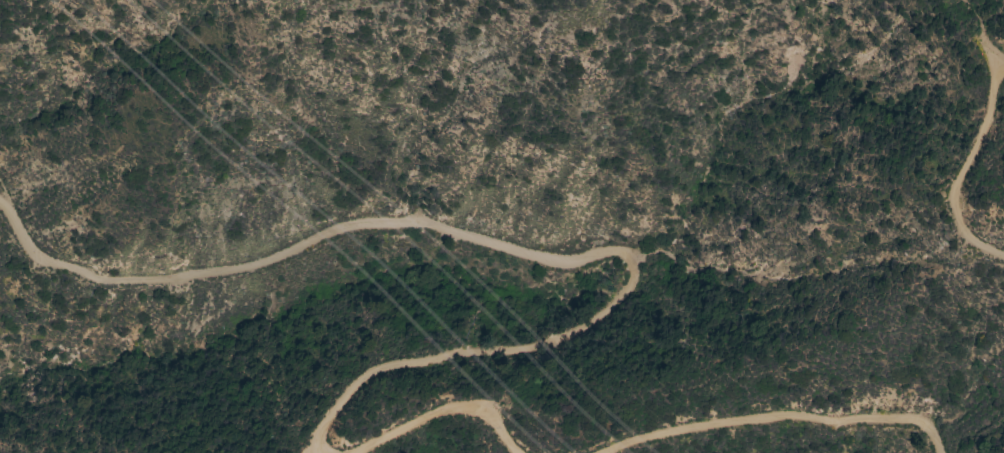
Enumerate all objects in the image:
road: (965, 169)
road: (503, 247)
road: (447, 409)
road: (781, 418)

